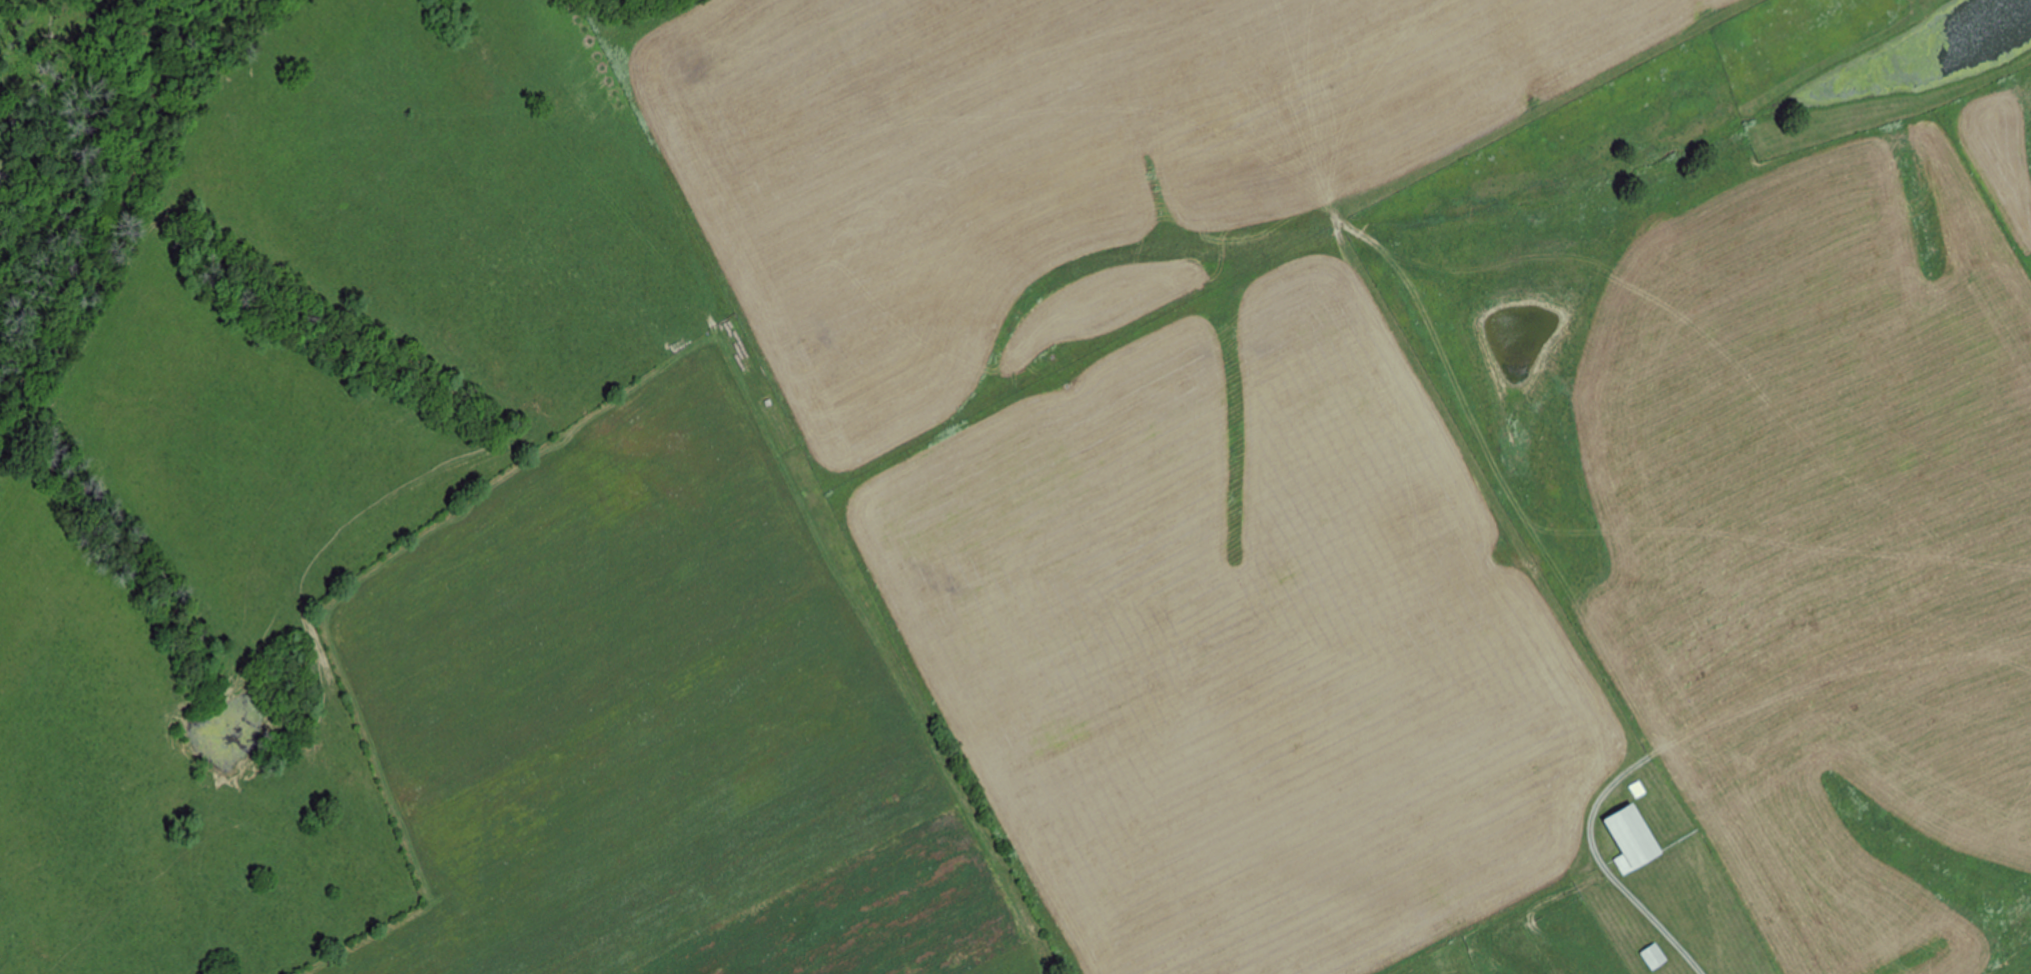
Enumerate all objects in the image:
building: (1632, 840)
building: (1654, 957)

